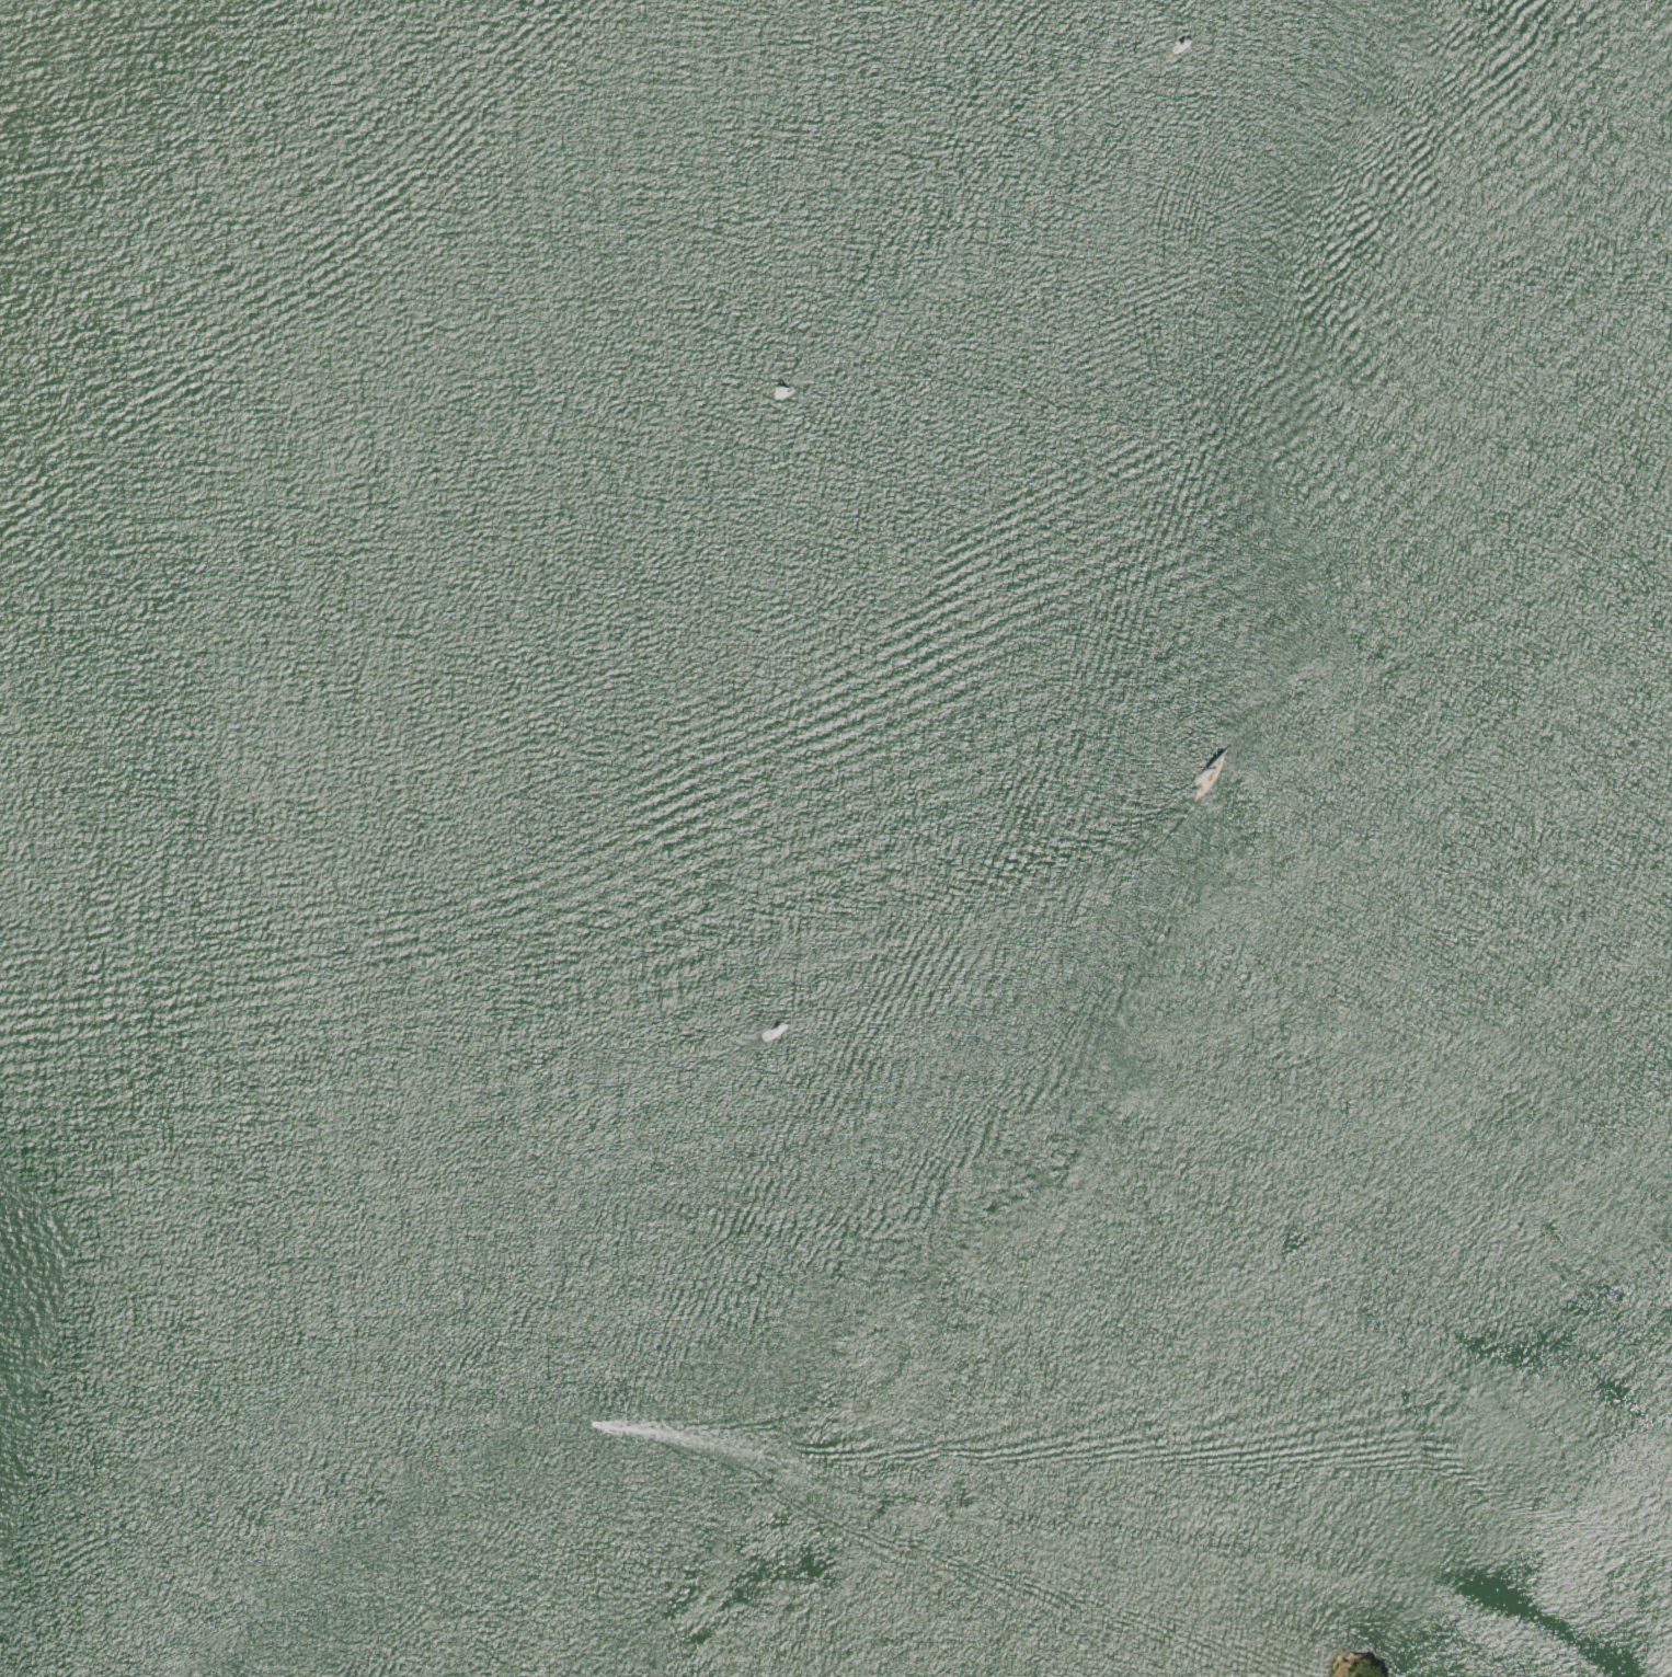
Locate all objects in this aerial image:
park: (1356, 1666)

